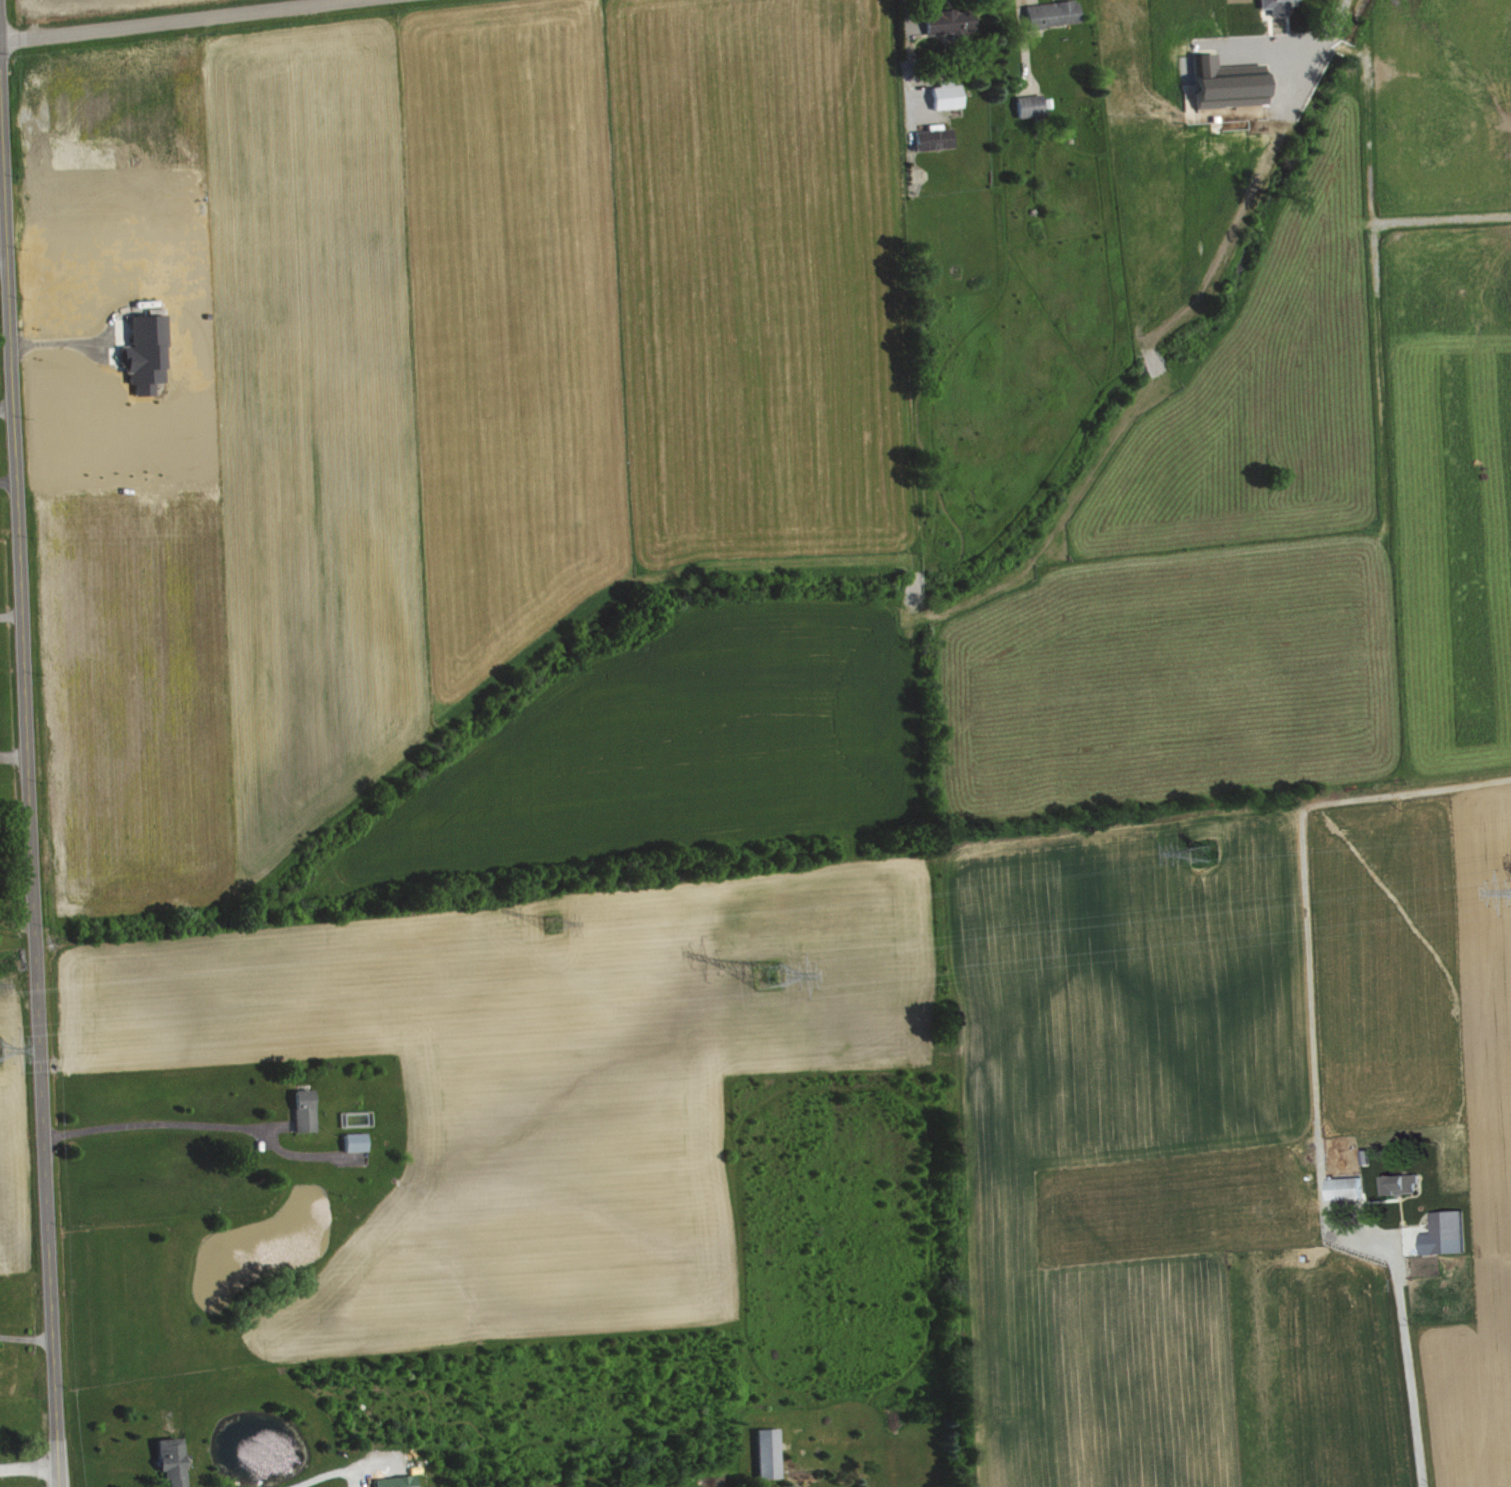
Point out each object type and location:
building: (1320, 0)
building: (1279, 7)
crop: (96, 9)
building: (1053, 15)
road: (163, 19)
building: (955, 22)
road: (1324, 25)
road: (905, 48)
building: (951, 96)
building: (1034, 106)
building: (939, 138)
road: (3, 263)
road: (62, 341)
crop: (418, 379)
road: (6, 407)
road: (8, 481)
road: (10, 608)
road: (28, 796)
power tower: (1203, 845)
power tower: (554, 922)
power tower: (774, 966)
building: (308, 1111)
road: (149, 1120)
building: (359, 1143)
building: (1409, 1184)
building: (1351, 1188)
building: (1451, 1234)
road: (25, 1337)
road: (1414, 1362)
building: (772, 1454)
building: (176, 1462)
road: (28, 1463)
road: (305, 1473)
building: (400, 1482)

